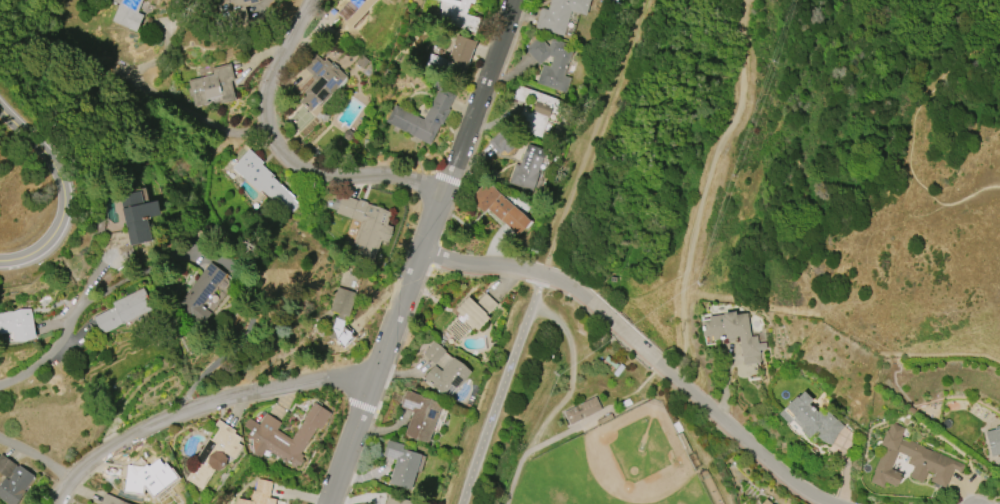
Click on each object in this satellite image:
road: (997, 2)
building: (354, 10)
building: (237, 11)
building: (128, 14)
building: (455, 14)
building: (559, 14)
building: (458, 57)
building: (550, 62)
building: (318, 83)
building: (212, 86)
road: (922, 103)
road: (172, 105)
building: (534, 109)
building: (401, 114)
road: (592, 137)
road: (283, 150)
building: (527, 167)
road: (708, 169)
building: (261, 178)
road: (59, 189)
road: (972, 194)
building: (499, 208)
building: (136, 217)
building: (366, 225)
road: (535, 272)
road: (94, 281)
building: (200, 293)
building: (122, 310)
building: (340, 315)
building: (470, 316)
building: (17, 324)
building: (734, 334)
building: (433, 352)
road: (685, 361)
road: (695, 369)
building: (447, 376)
road: (373, 378)
road: (501, 388)
road: (200, 401)
building: (582, 411)
building: (420, 415)
building: (811, 419)
building: (282, 436)
building: (993, 441)
building: (214, 454)
building: (910, 460)
road: (36, 461)
building: (401, 464)
building: (146, 478)
building: (13, 481)
building: (259, 493)
building: (112, 500)
building: (396, 500)
building: (765, 502)

